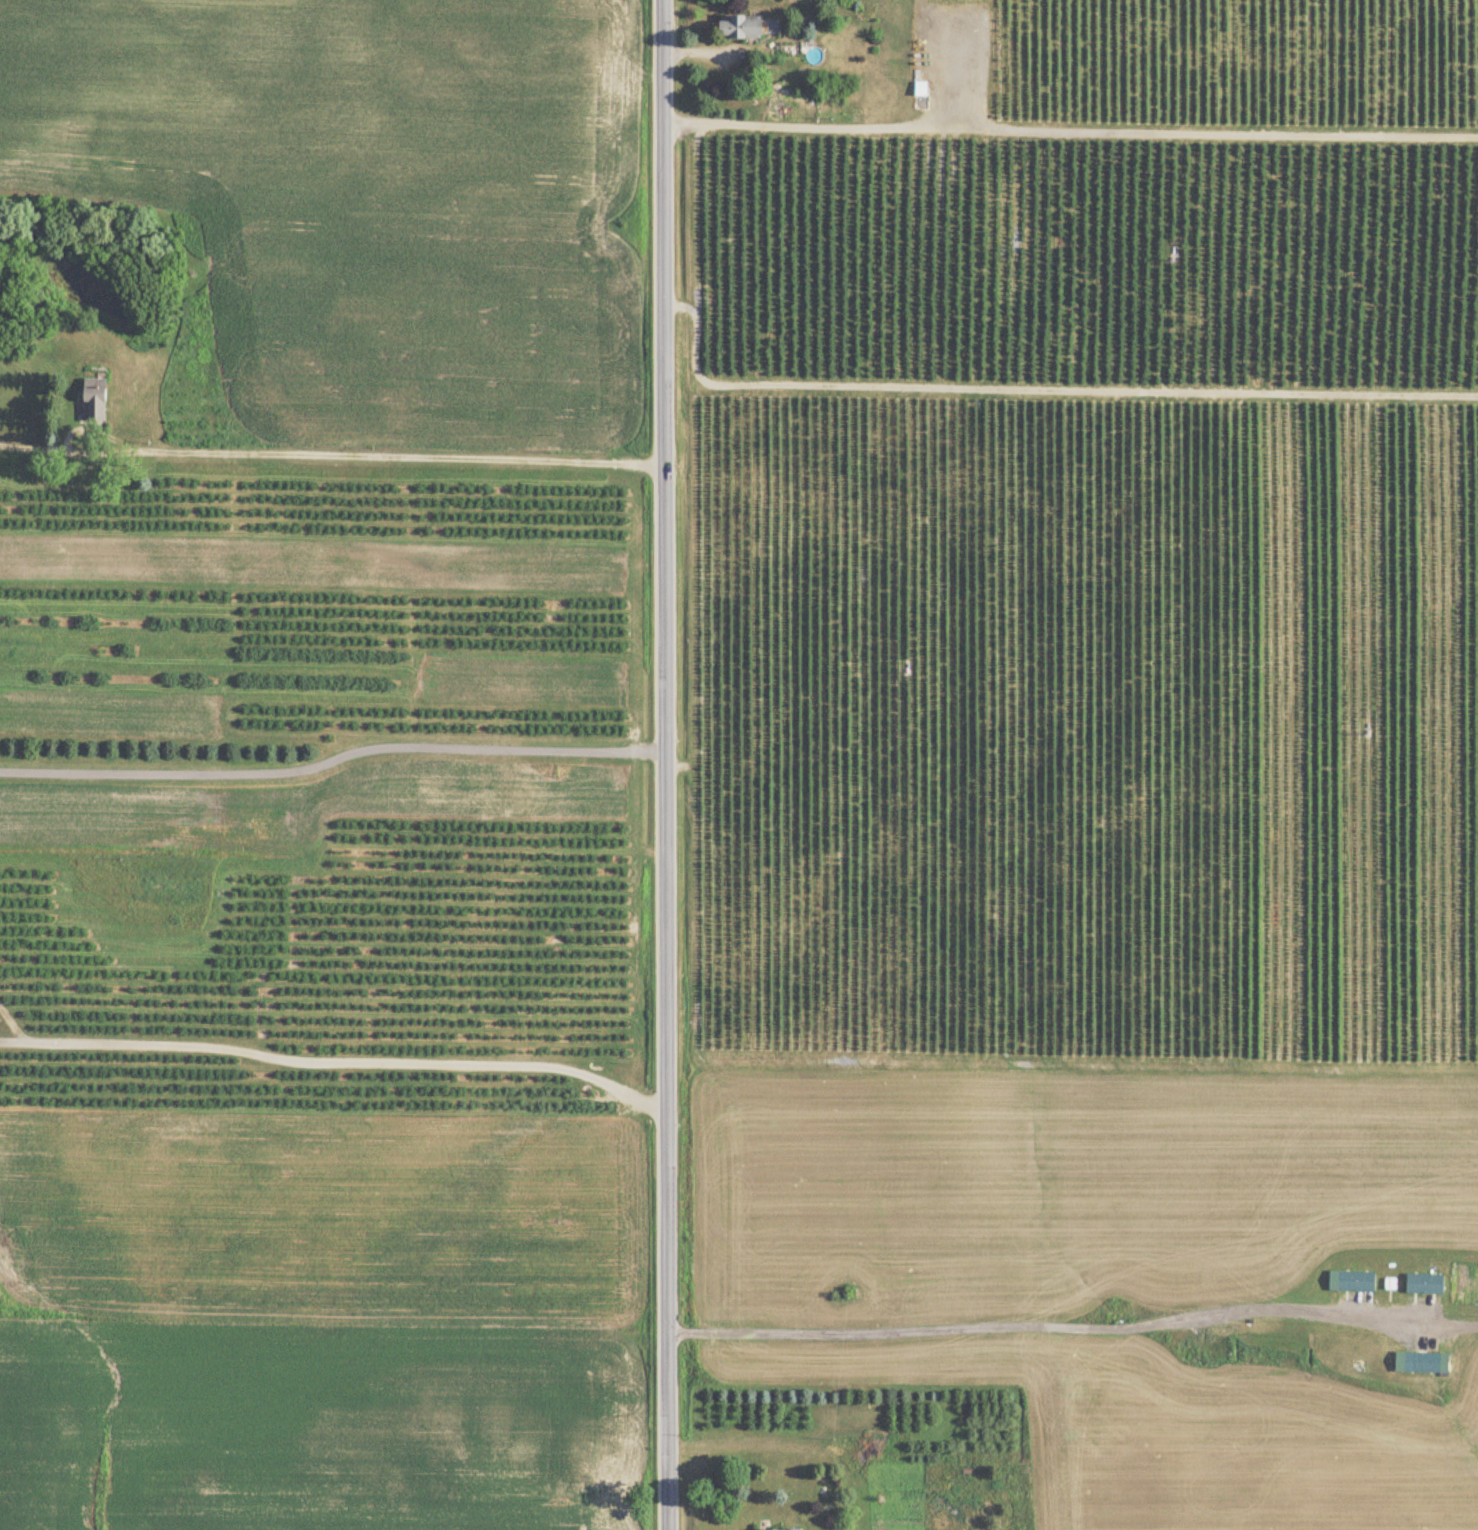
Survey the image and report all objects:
building: (747, 27)
building: (98, 399)
road: (39, 450)
road: (373, 457)
road: (332, 756)
road: (664, 765)
road: (13, 1023)
road: (12, 1039)
road: (348, 1060)
building: (1356, 1281)
building: (1424, 1284)
road: (1073, 1322)
building: (1422, 1363)

